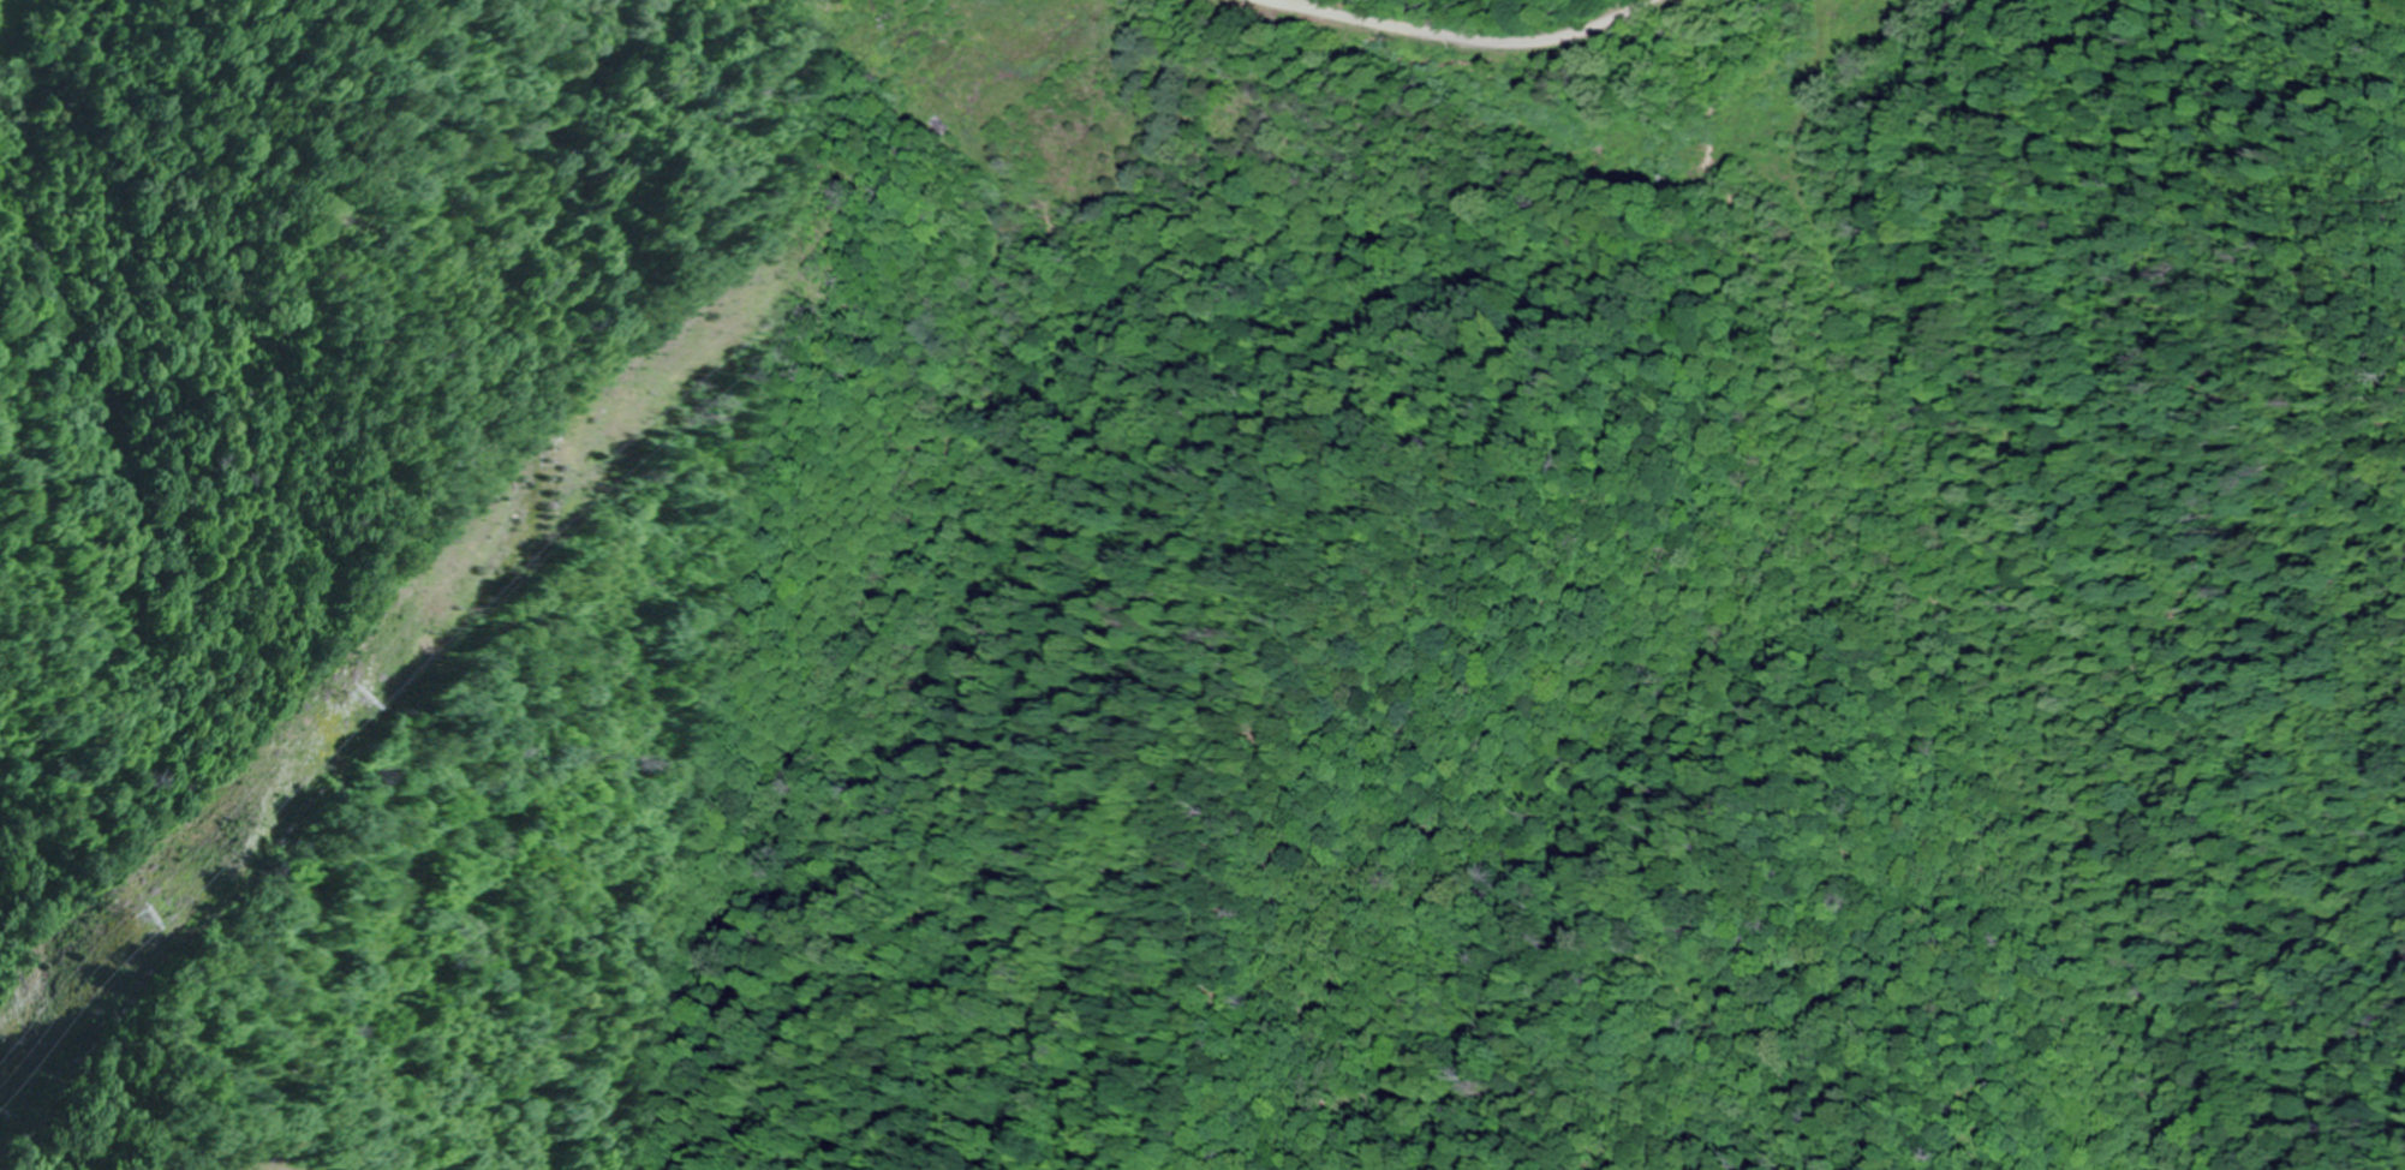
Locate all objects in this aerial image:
road: (1446, 38)
power tower: (329, 702)

